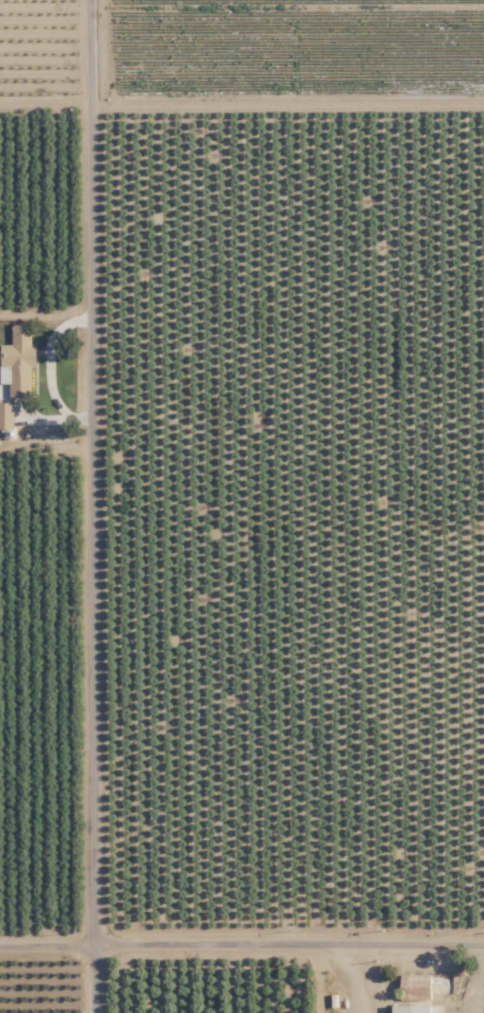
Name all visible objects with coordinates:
building: (17, 361)
road: (48, 367)
building: (6, 415)
road: (93, 506)
crop: (39, 518)
road: (242, 936)
road: (315, 974)
road: (350, 974)
road: (480, 987)
building: (412, 1008)

